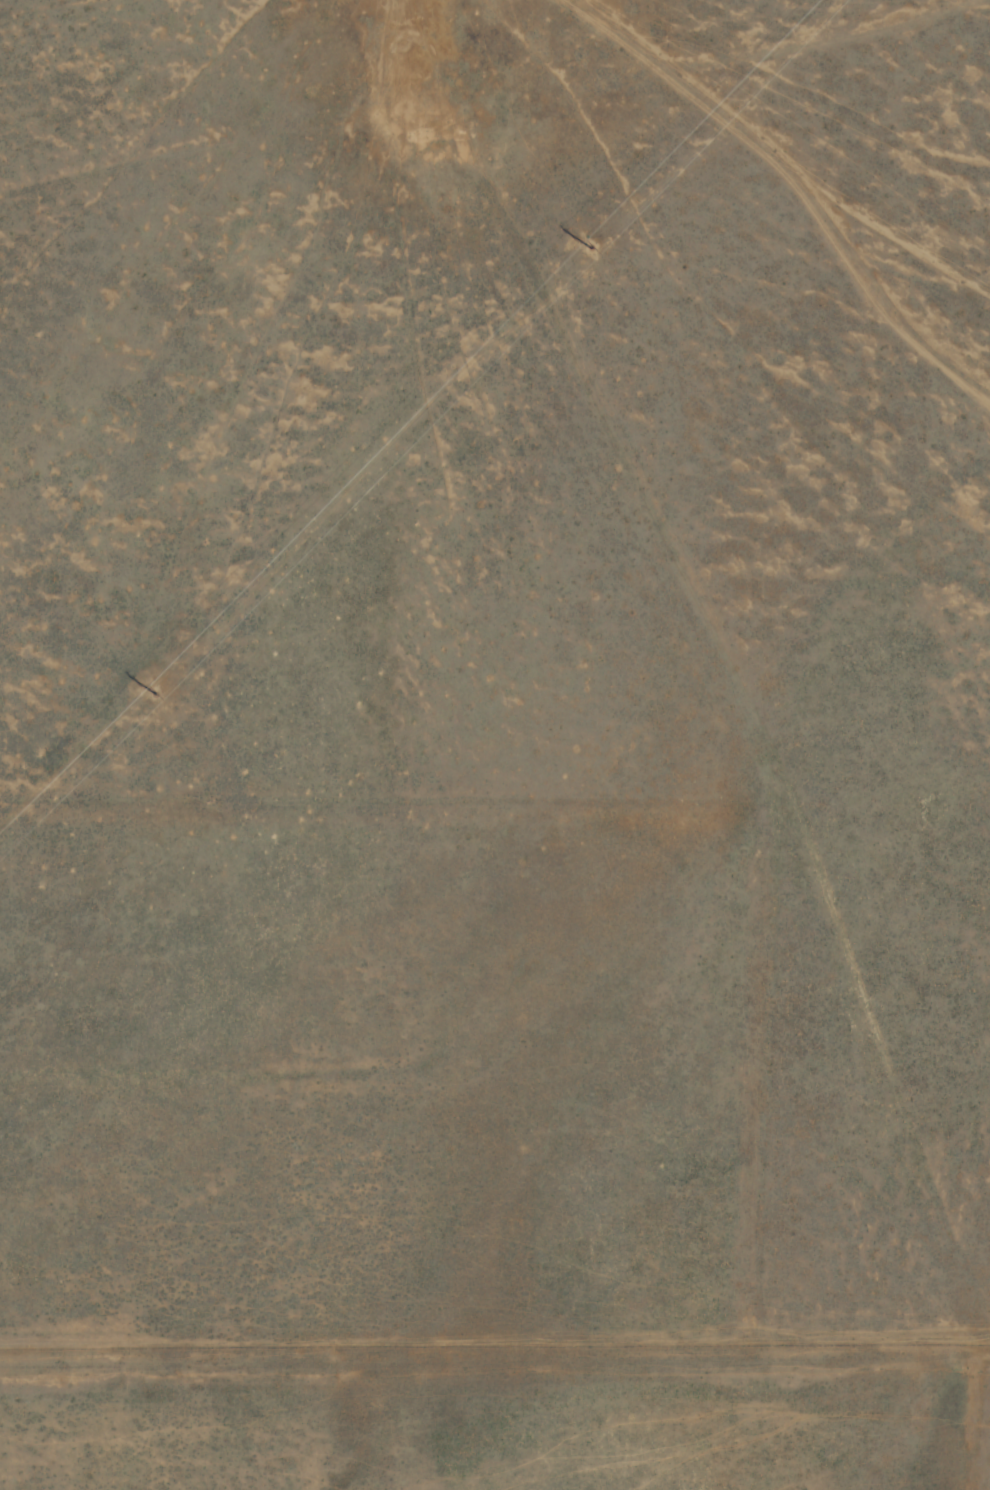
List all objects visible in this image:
road: (729, 41)
power tower: (594, 248)
road: (732, 504)
power tower: (154, 693)

